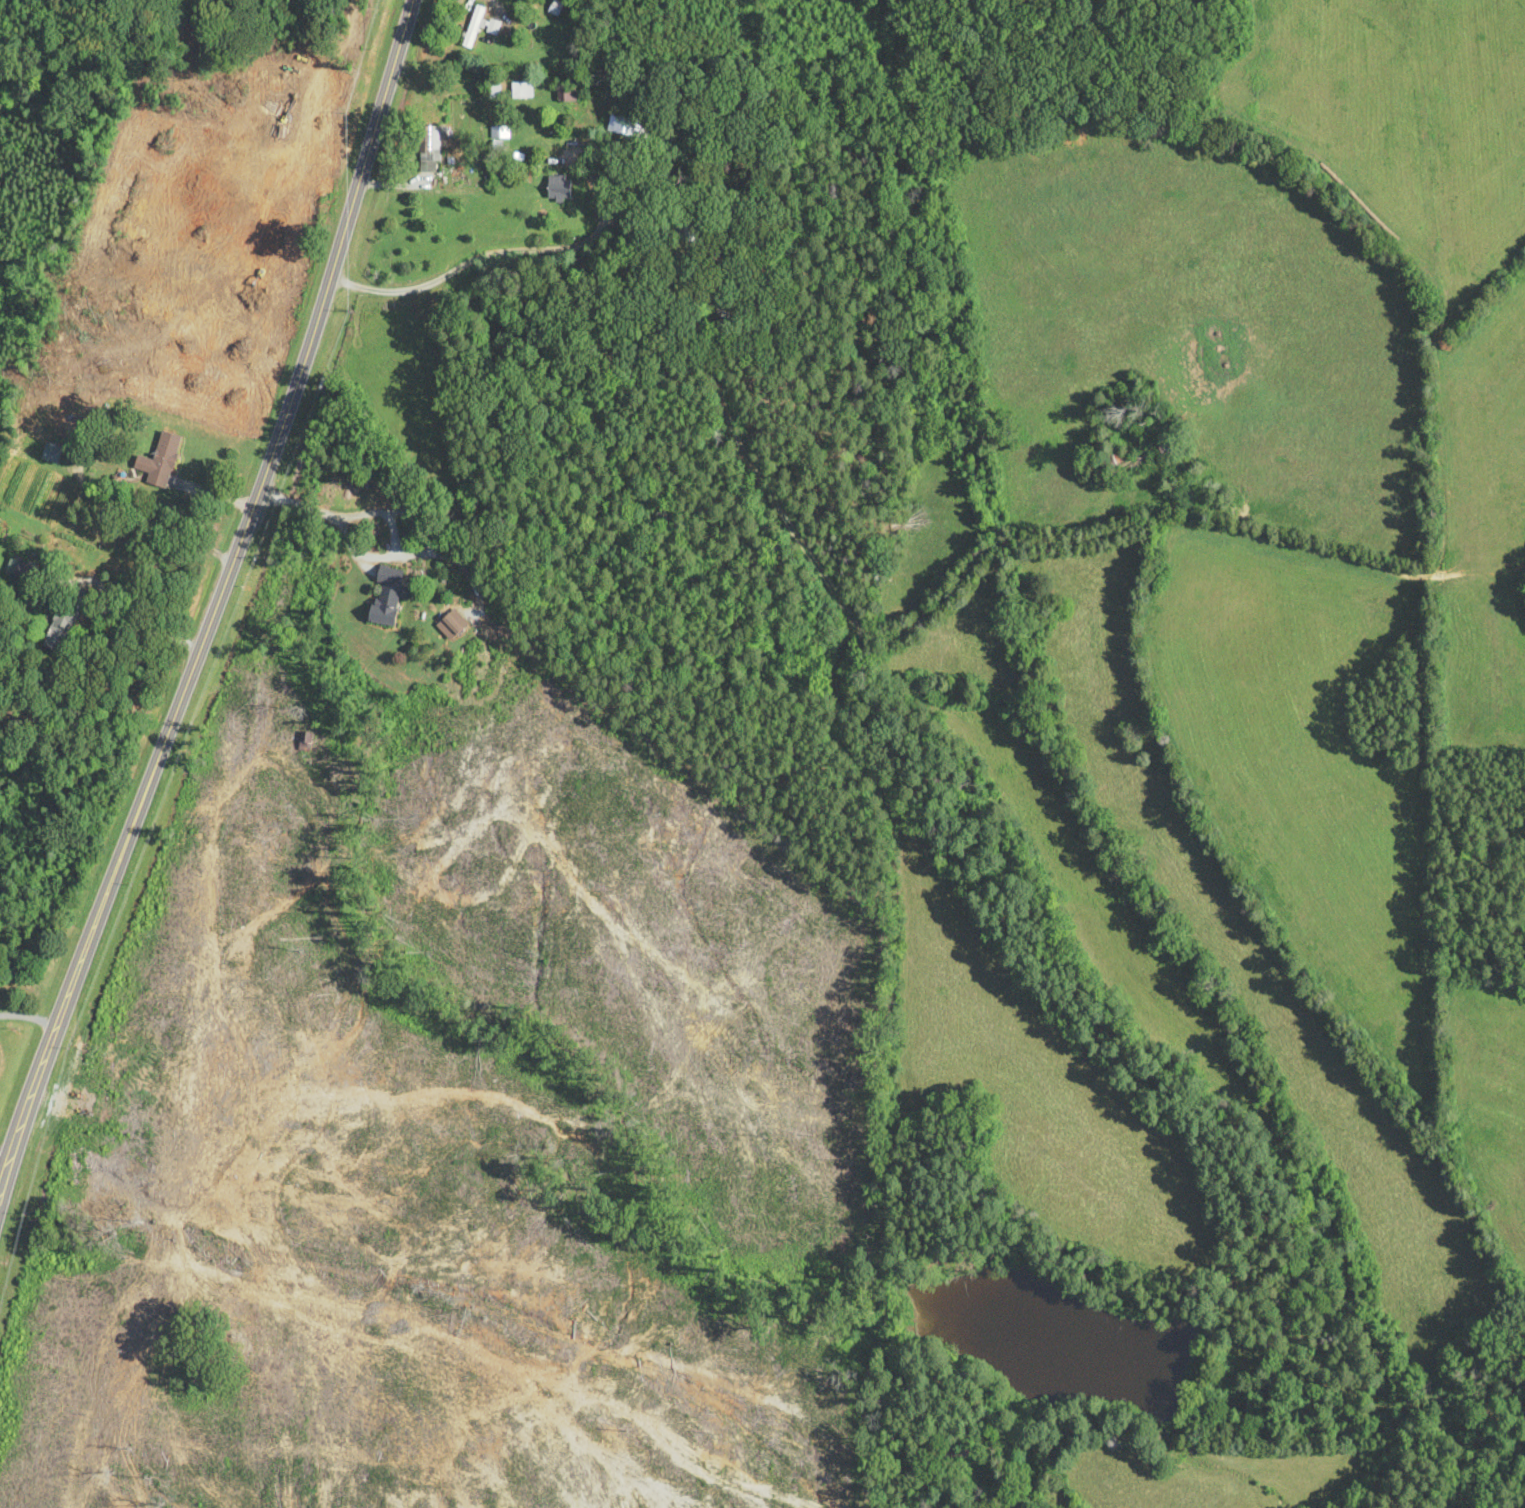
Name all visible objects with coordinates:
building: (556, 8)
building: (474, 27)
building: (493, 27)
building: (563, 94)
building: (628, 128)
building: (431, 145)
building: (560, 189)
building: (686, 232)
building: (53, 454)
building: (163, 461)
building: (22, 570)
road: (210, 595)
building: (388, 597)
building: (453, 625)
building: (61, 629)

